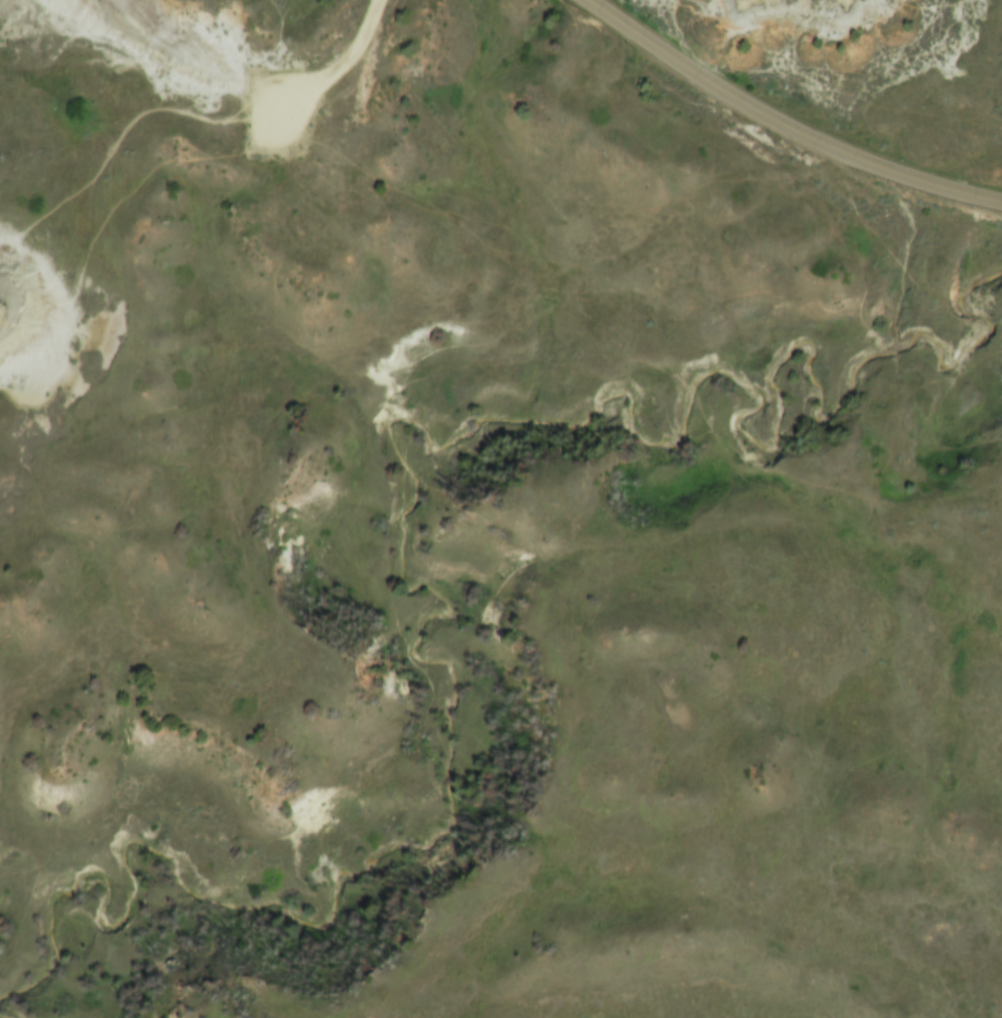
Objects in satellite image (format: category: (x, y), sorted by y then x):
road: (351, 64)
parking lot: (293, 106)
road: (785, 125)
road: (97, 177)

